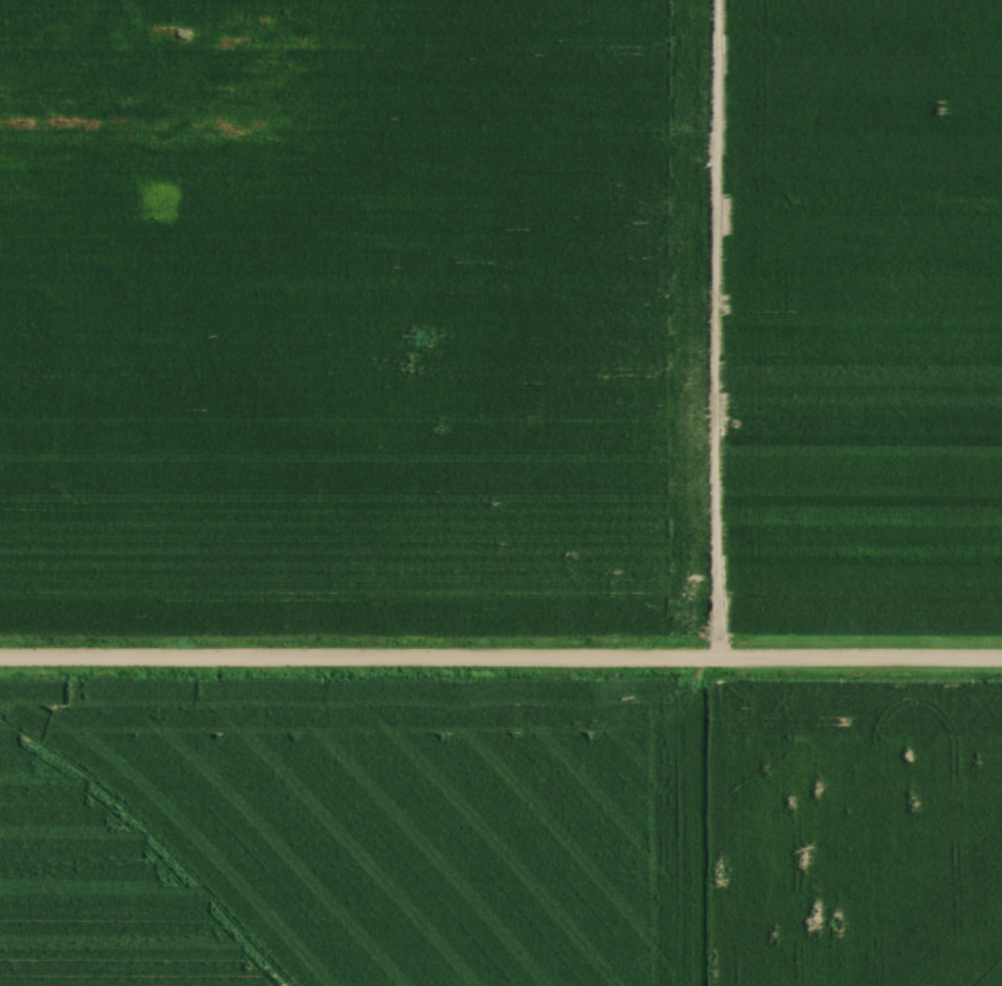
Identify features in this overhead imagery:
road: (500, 659)

